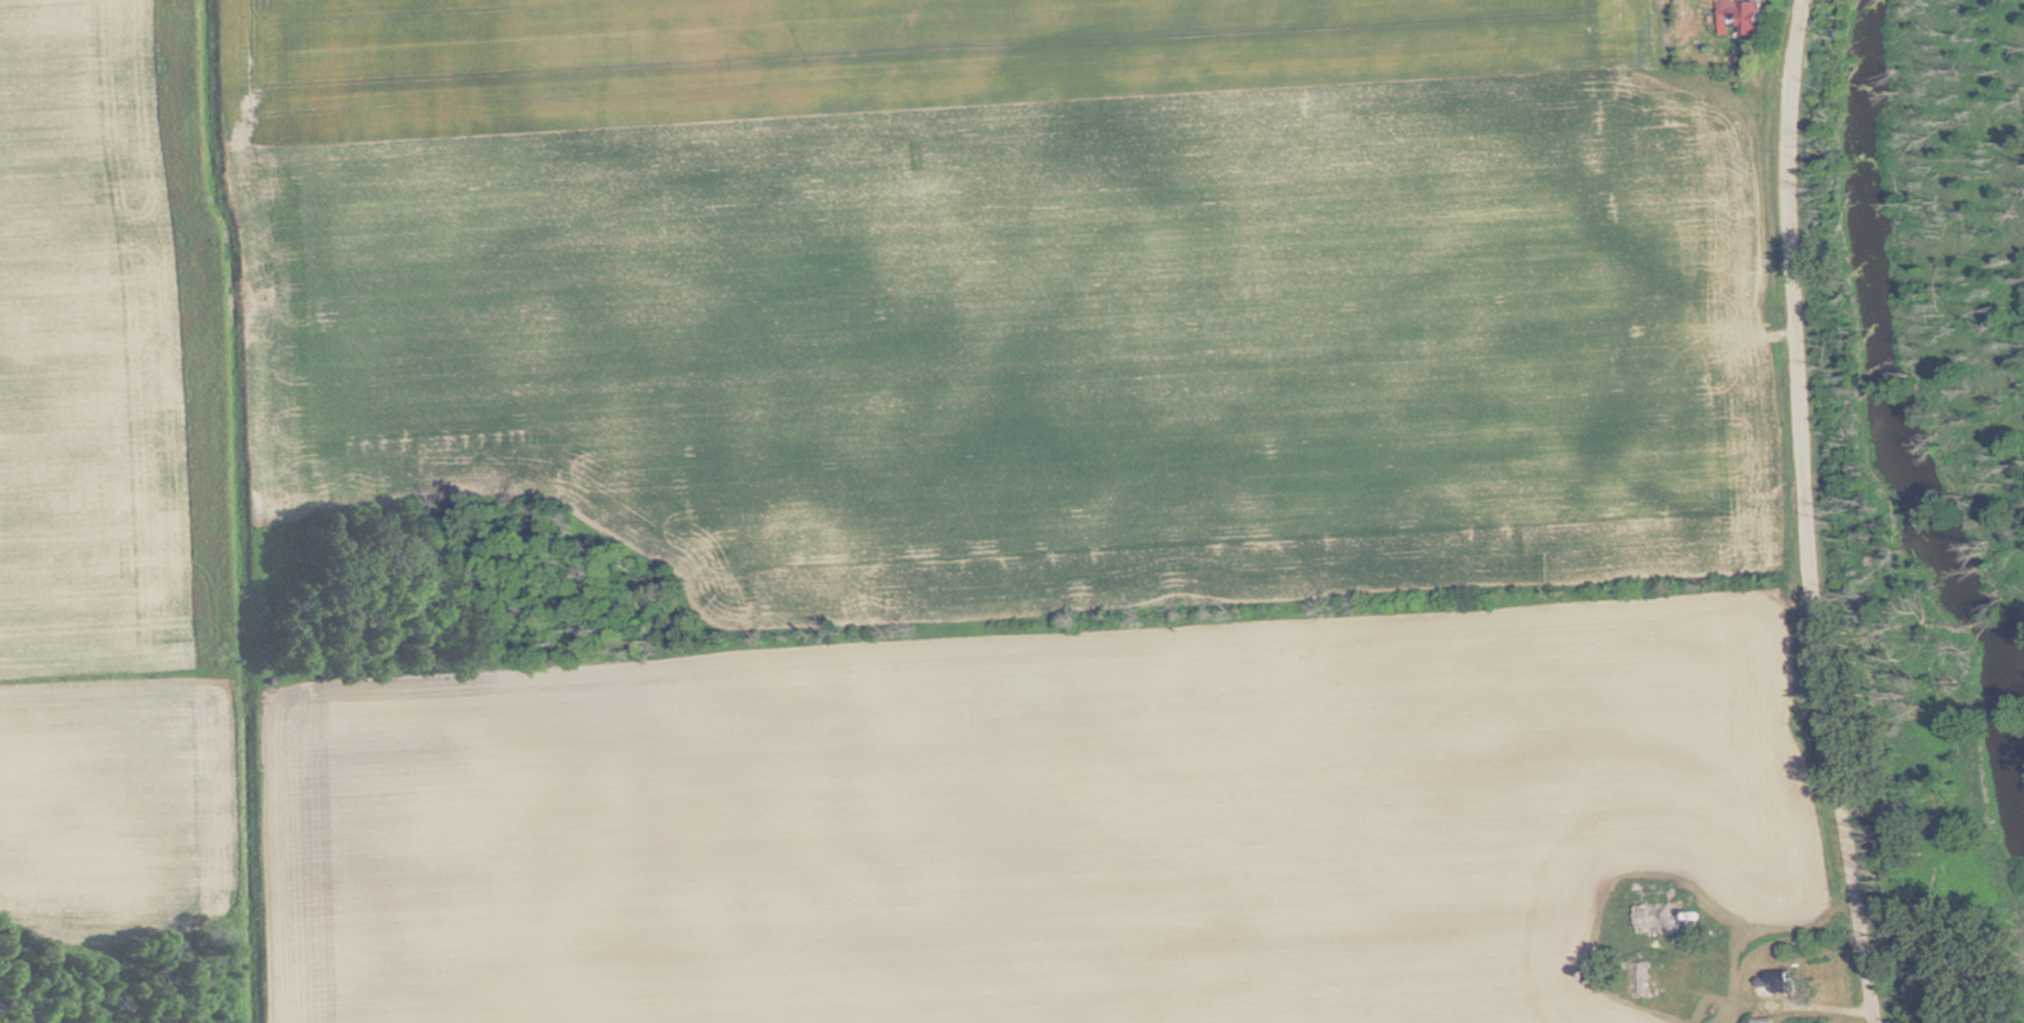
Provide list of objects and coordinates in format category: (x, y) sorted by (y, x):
building: (1739, 16)
river: (1897, 373)
road: (1813, 513)
building: (1641, 923)
building: (1771, 983)
building: (1638, 984)

